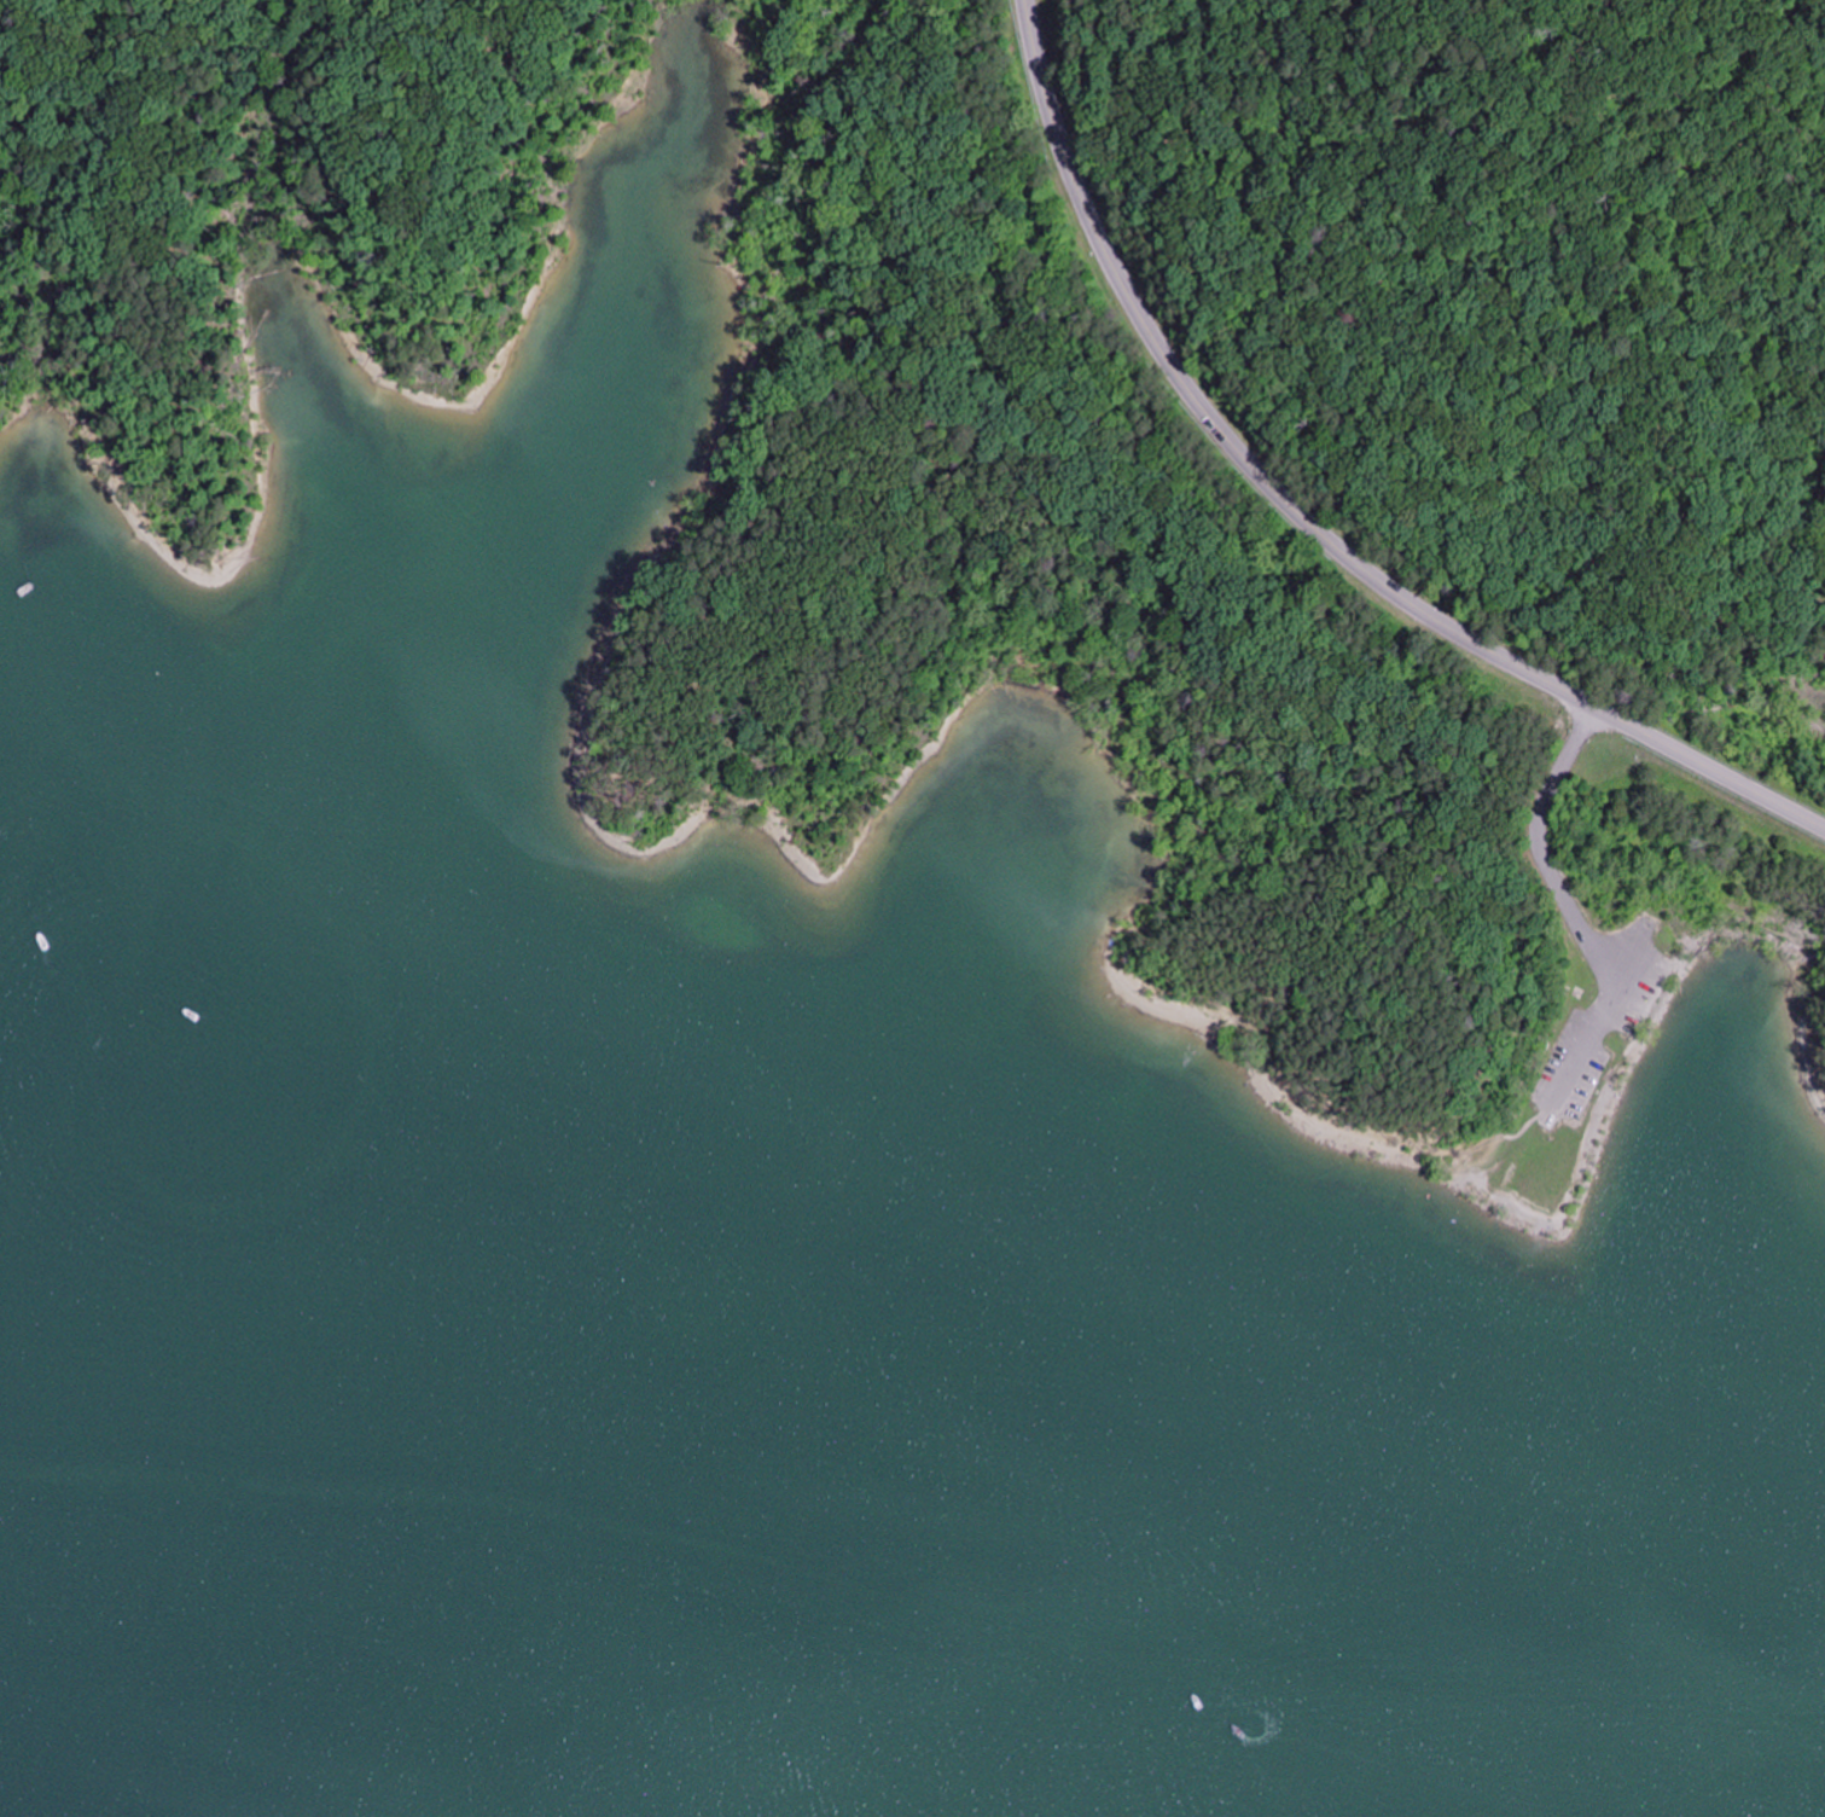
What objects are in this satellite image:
road: (1304, 522)
road: (1563, 895)
parking lot: (1611, 1011)

